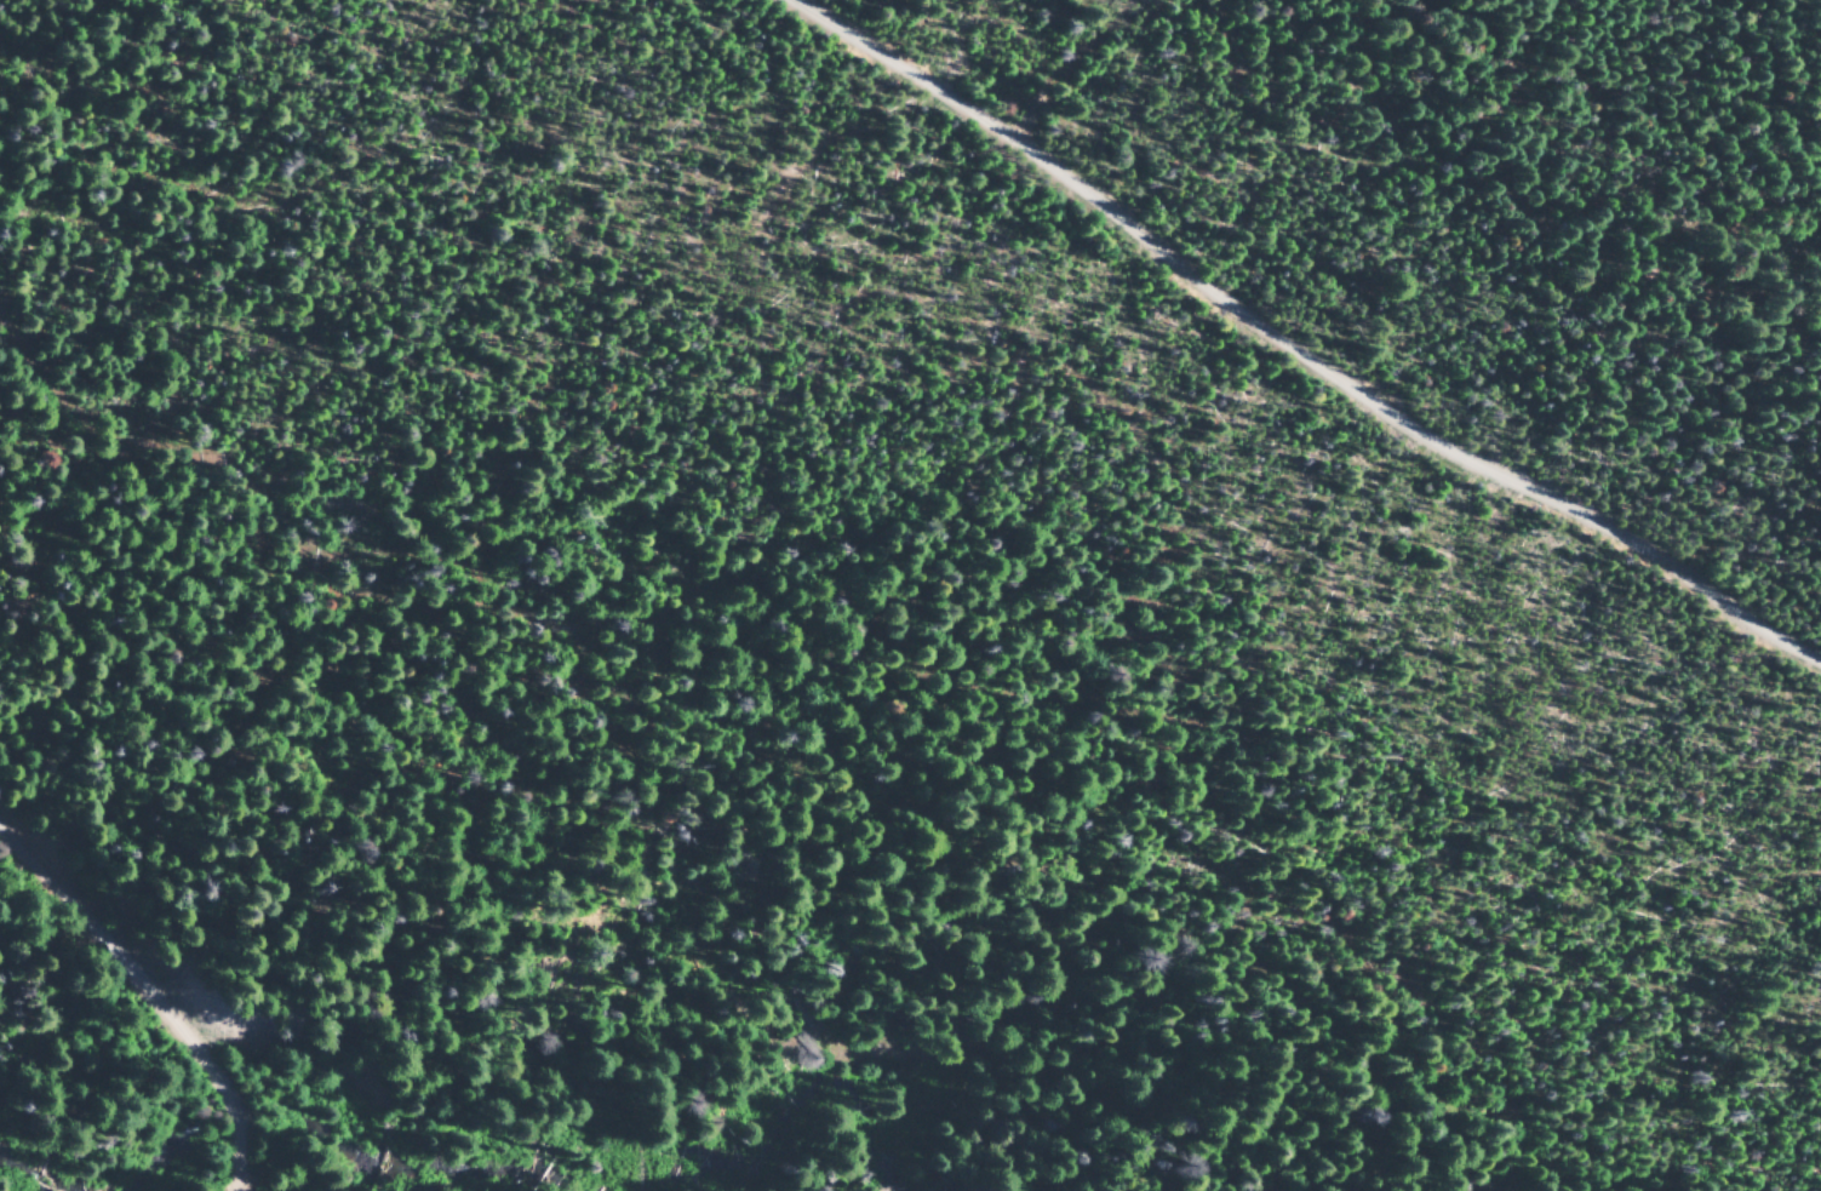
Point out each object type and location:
road: (1293, 348)
road: (128, 978)
road: (217, 1168)

